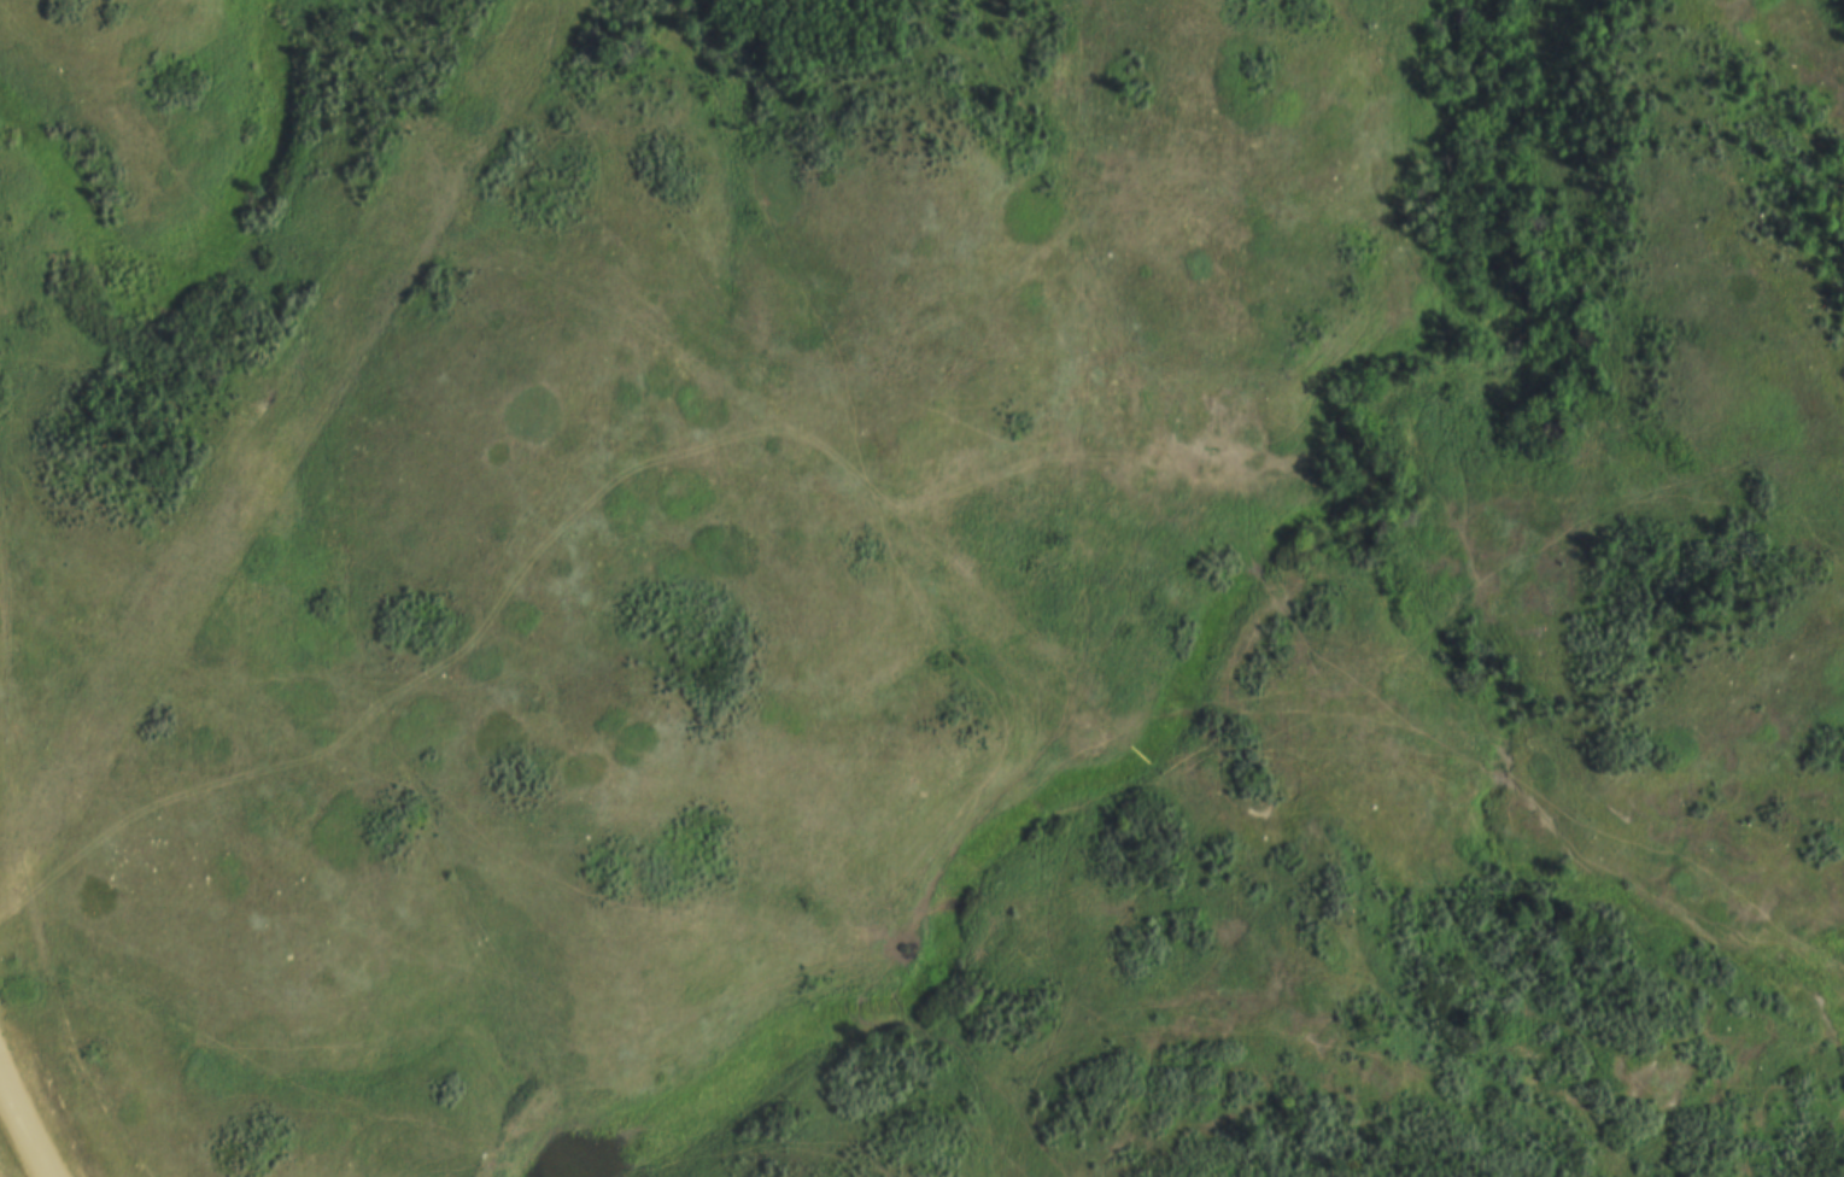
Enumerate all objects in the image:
road: (24, 1122)

